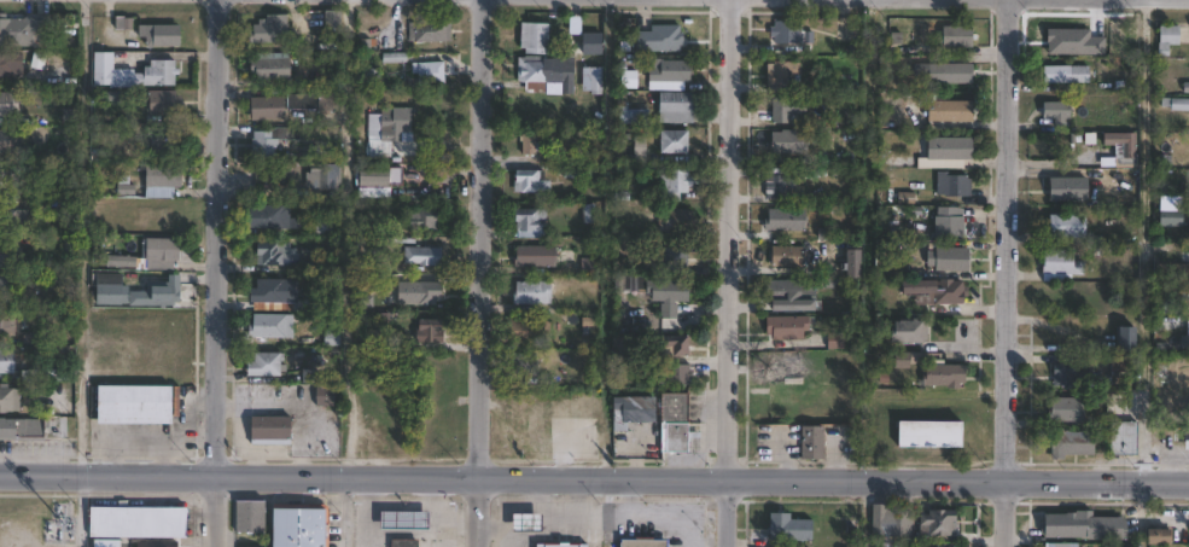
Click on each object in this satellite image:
building: (331, 22)
building: (1101, 25)
building: (267, 30)
building: (14, 31)
building: (427, 31)
building: (43, 33)
building: (789, 34)
building: (158, 35)
building: (534, 35)
building: (952, 36)
building: (1055, 36)
building: (1166, 37)
building: (657, 39)
building: (391, 58)
building: (100, 62)
building: (13, 64)
building: (267, 69)
building: (668, 71)
building: (427, 72)
building: (155, 74)
building: (949, 74)
building: (544, 75)
building: (1063, 75)
building: (781, 76)
building: (362, 77)
building: (624, 77)
building: (589, 80)
building: (299, 100)
building: (159, 101)
building: (325, 101)
building: (10, 104)
building: (1175, 104)
building: (263, 107)
building: (674, 107)
building: (785, 109)
building: (948, 112)
building: (1055, 112)
building: (629, 115)
building: (385, 129)
building: (11, 140)
building: (158, 141)
building: (269, 141)
building: (671, 141)
building: (787, 142)
building: (1120, 142)
building: (525, 144)
building: (639, 149)
building: (945, 152)
building: (1106, 156)
building: (572, 170)
building: (321, 176)
building: (368, 176)
building: (10, 179)
building: (161, 181)
building: (529, 184)
building: (672, 184)
building: (128, 185)
building: (950, 185)
building: (777, 187)
building: (1066, 190)
building: (1188, 211)
building: (13, 216)
building: (266, 217)
building: (1168, 217)
building: (425, 220)
building: (674, 220)
building: (783, 220)
building: (528, 221)
building: (946, 228)
building: (1065, 228)
road: (1143, 240)
building: (163, 254)
building: (272, 255)
building: (420, 256)
building: (786, 256)
building: (532, 257)
building: (8, 258)
building: (672, 258)
building: (946, 260)
building: (124, 261)
building: (849, 264)
building: (1059, 267)
road: (214, 273)
road: (478, 273)
road: (730, 273)
road: (1002, 273)
building: (652, 289)
building: (2, 290)
building: (418, 292)
building: (116, 293)
building: (168, 293)
building: (530, 293)
building: (789, 293)
building: (943, 293)
building: (269, 295)
building: (7, 326)
building: (268, 326)
building: (787, 327)
building: (526, 332)
building: (903, 333)
building: (1065, 333)
building: (427, 334)
building: (1185, 337)
building: (834, 341)
building: (1125, 341)
building: (675, 345)
building: (5, 363)
building: (261, 365)
building: (521, 365)
building: (783, 371)
building: (1069, 374)
building: (43, 376)
building: (672, 376)
building: (942, 377)
building: (7, 401)
building: (133, 402)
road: (290, 405)
road: (185, 407)
building: (631, 409)
building: (1065, 411)
building: (674, 426)
building: (21, 430)
building: (267, 431)
building: (1185, 437)
building: (1121, 438)
road: (175, 440)
building: (1068, 443)
building: (810, 444)
building: (1098, 444)
road: (126, 447)
road: (594, 476)
road: (602, 512)
building: (251, 517)
building: (402, 519)
gas station: (402, 519)
building: (135, 520)
building: (888, 520)
building: (934, 522)
building: (525, 523)
gas station: (525, 523)
building: (1080, 525)
building: (298, 526)
building: (788, 528)
building: (1159, 536)
building: (403, 542)
building: (640, 542)
building: (111, 543)
building: (162, 543)
building: (558, 543)
building: (1059, 545)
building: (247, 546)

